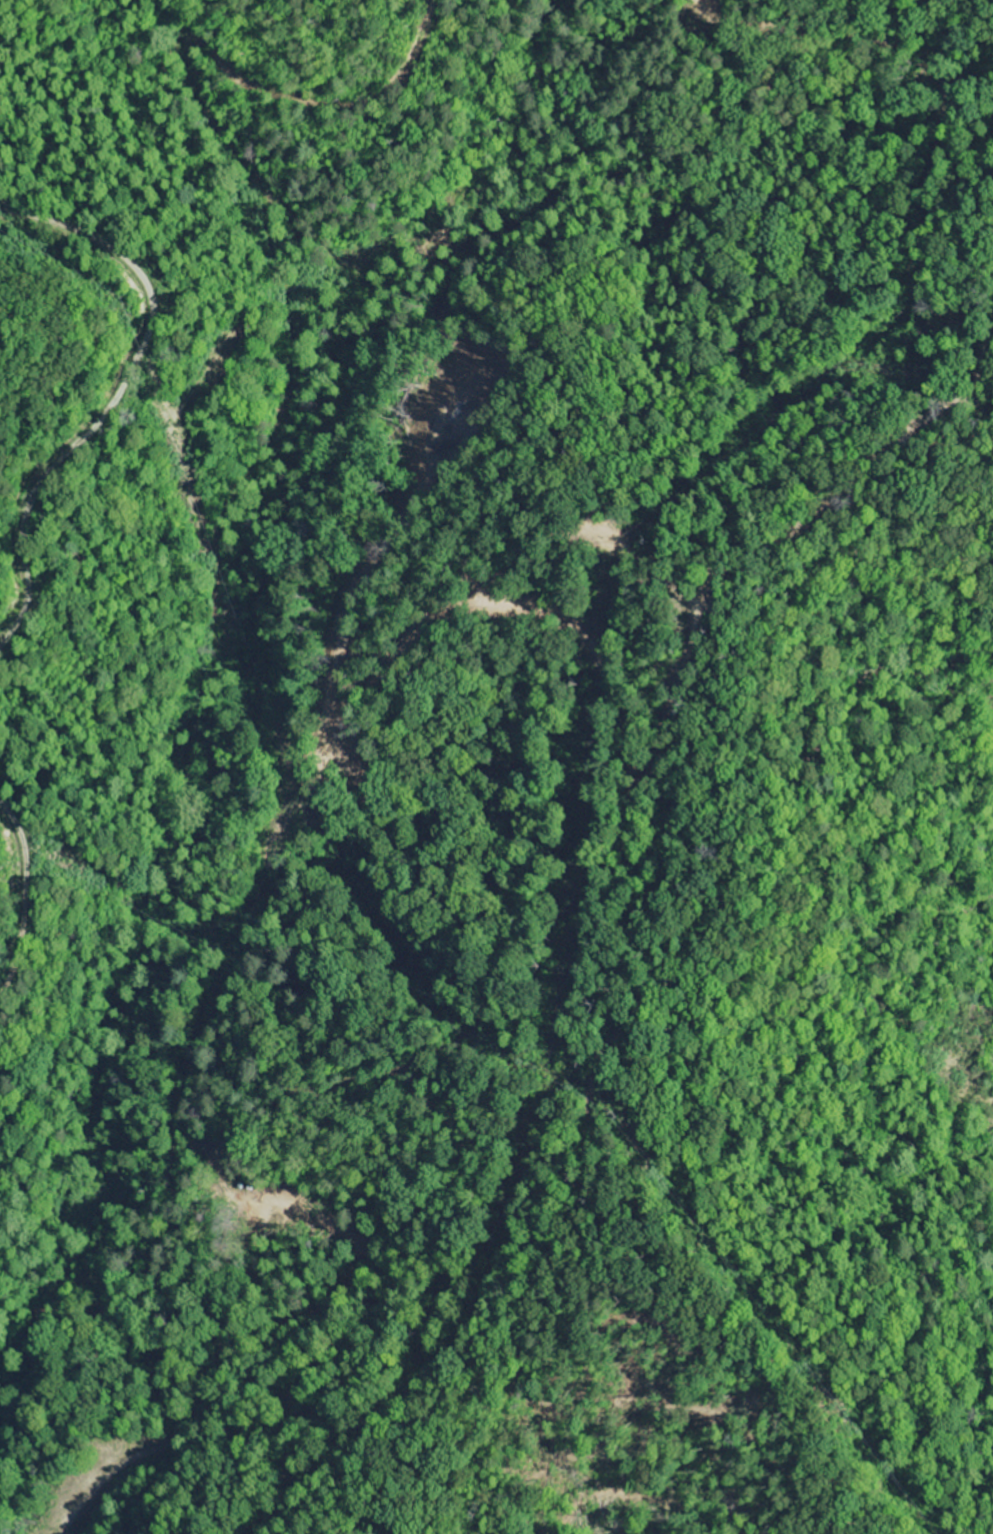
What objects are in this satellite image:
road: (108, 391)
road: (192, 764)
road: (9, 892)

